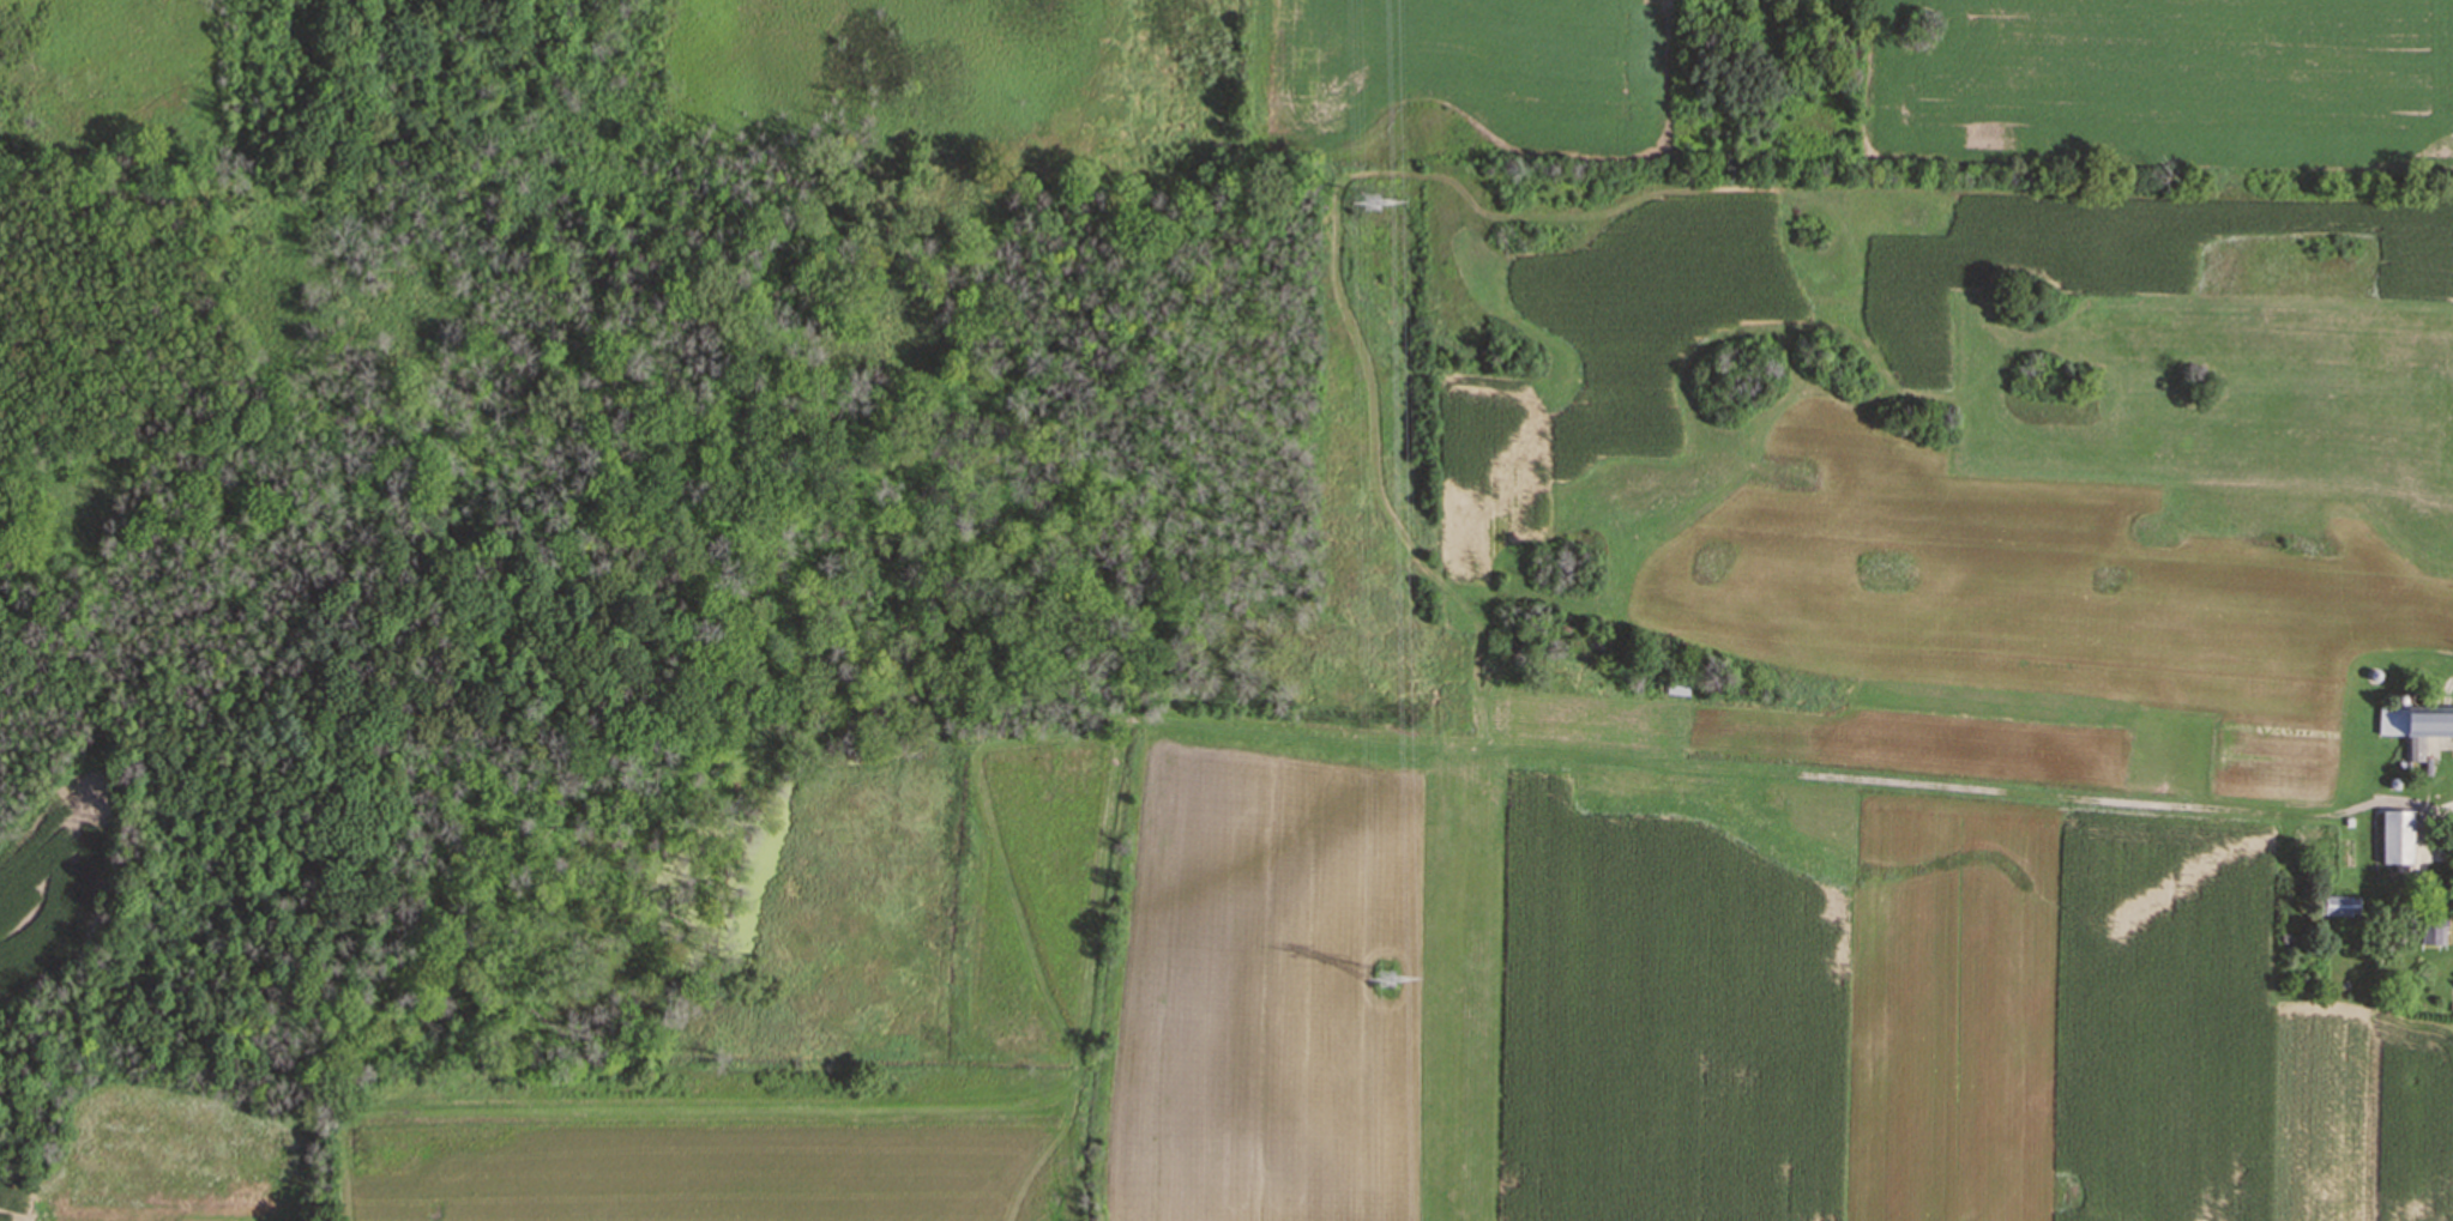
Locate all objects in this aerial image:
crop: (1483, 68)
power tower: (1372, 210)
crop: (1790, 719)
road: (2421, 821)
building: (2397, 836)
crop: (56, 878)
building: (2340, 905)
power tower: (1388, 985)
crop: (22, 1202)

